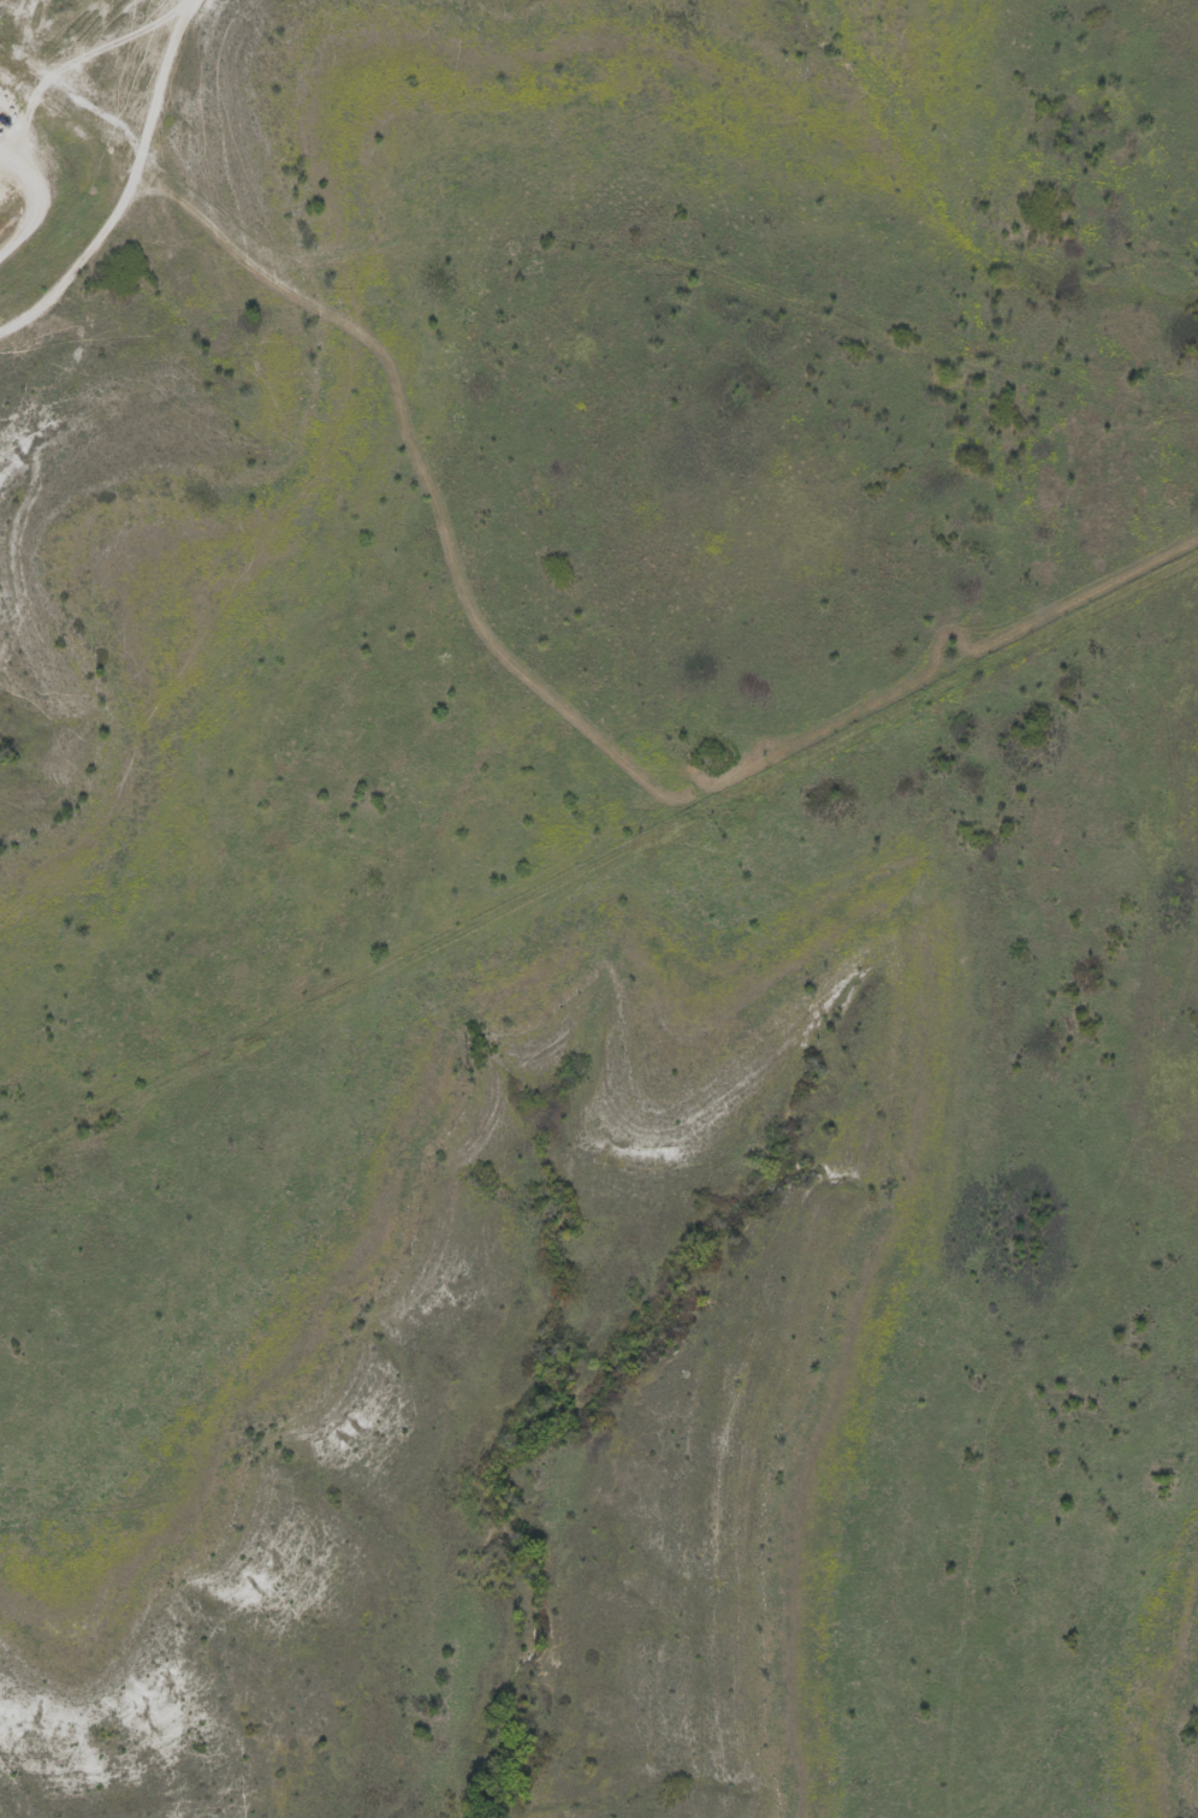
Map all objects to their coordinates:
road: (129, 183)
road: (23, 221)

